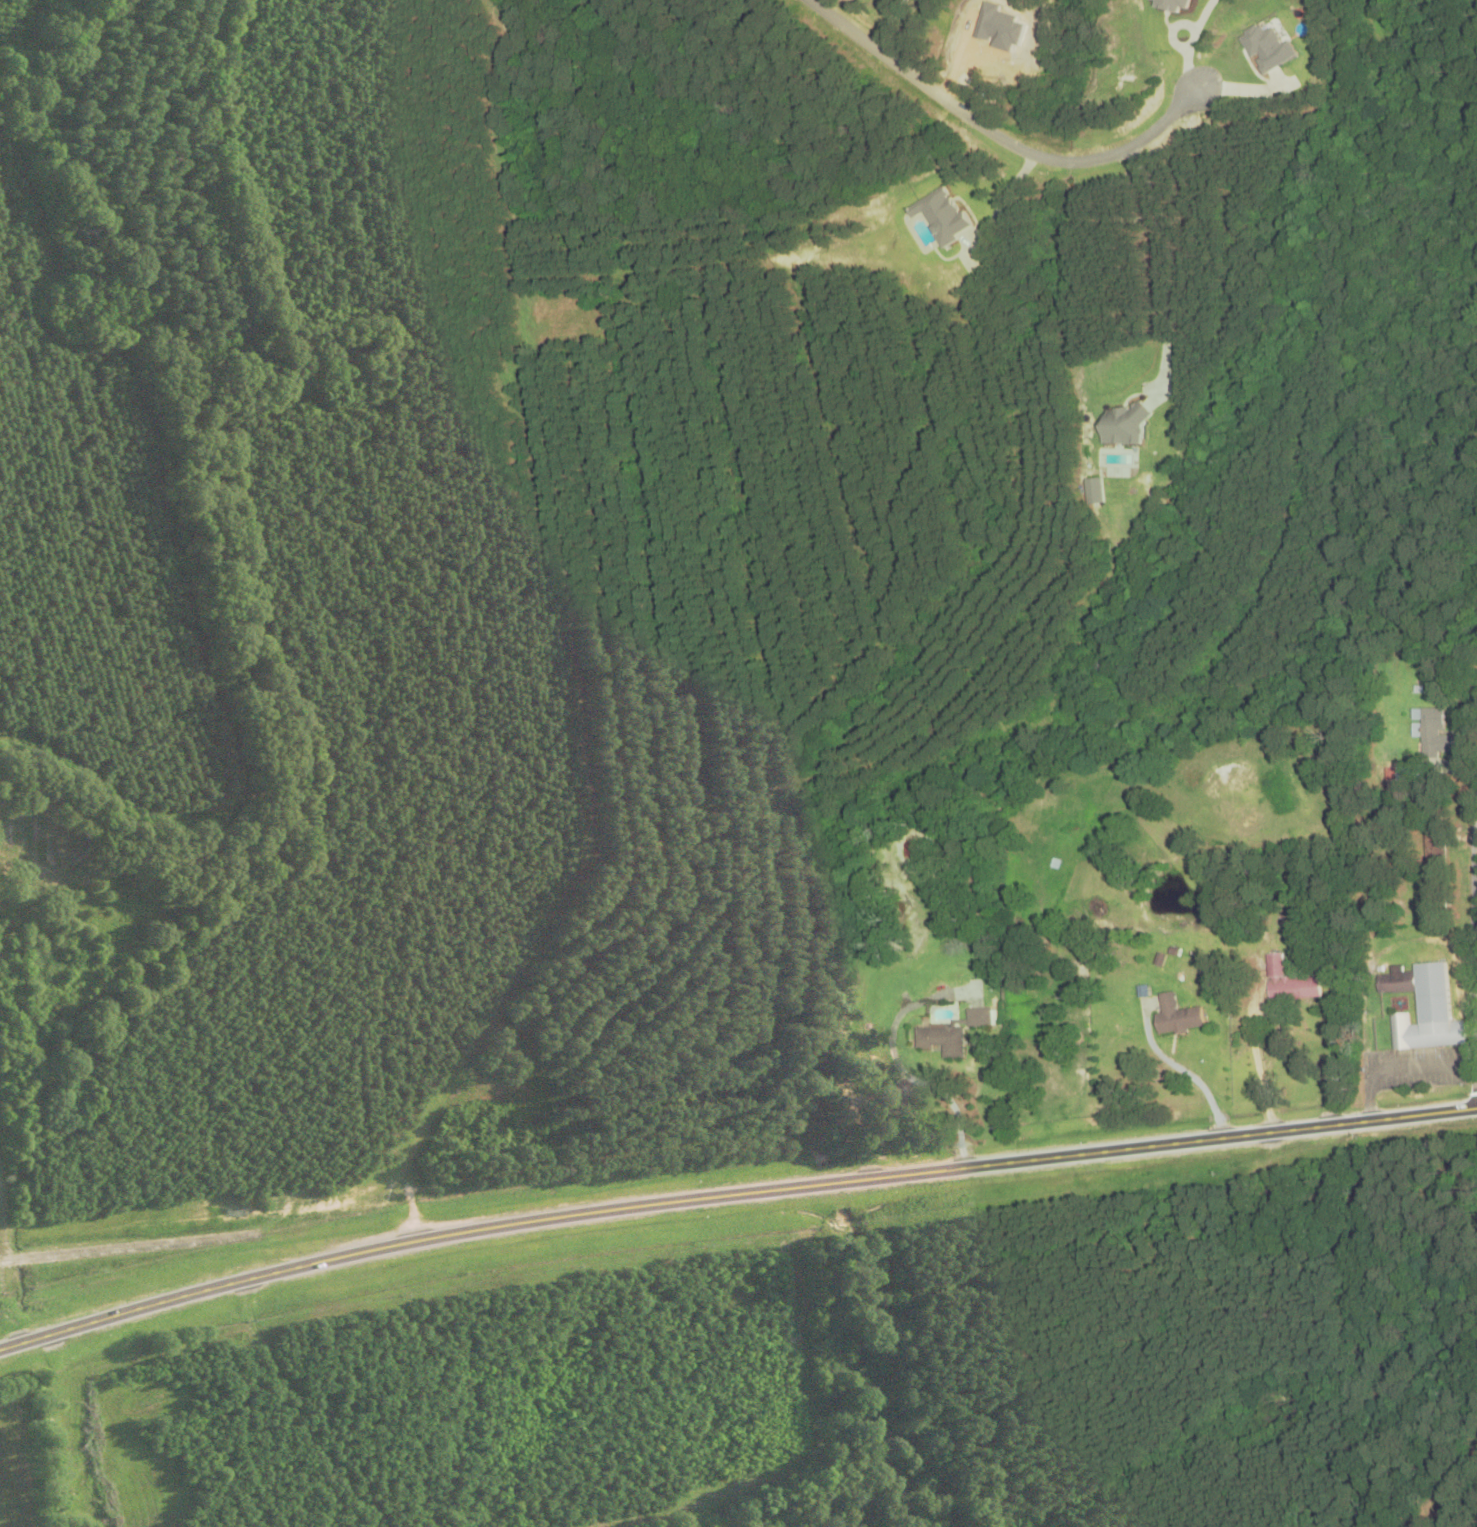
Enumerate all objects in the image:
road: (1000, 136)
building: (1127, 425)
building: (1098, 490)
building: (1429, 731)
building: (921, 845)
building: (1435, 847)
road: (1476, 892)
building: (1435, 901)
building: (1104, 970)
building: (1396, 980)
building: (1294, 987)
building: (1427, 1012)
building: (1176, 1016)
building: (947, 1028)
road: (1257, 1065)
road: (1176, 1066)
road: (1422, 1067)
road: (908, 1075)
road: (1370, 1096)
road: (1424, 1113)
road: (1225, 1134)
road: (534, 1221)
road: (3, 1224)
road: (127, 1246)

